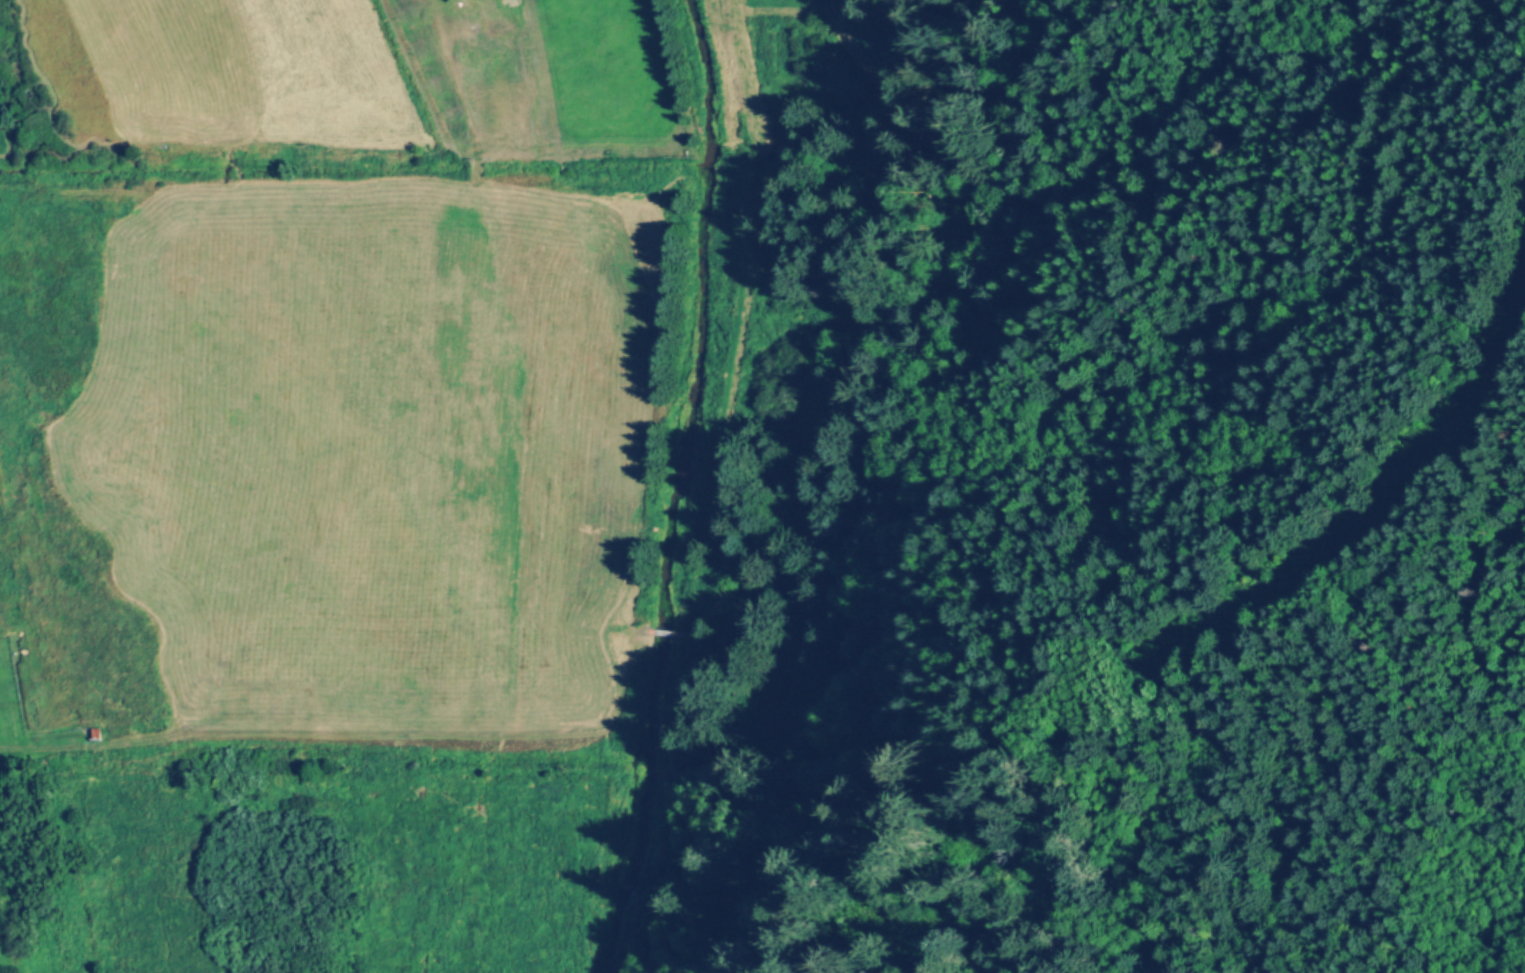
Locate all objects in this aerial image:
river: (684, 487)
road: (1392, 519)

